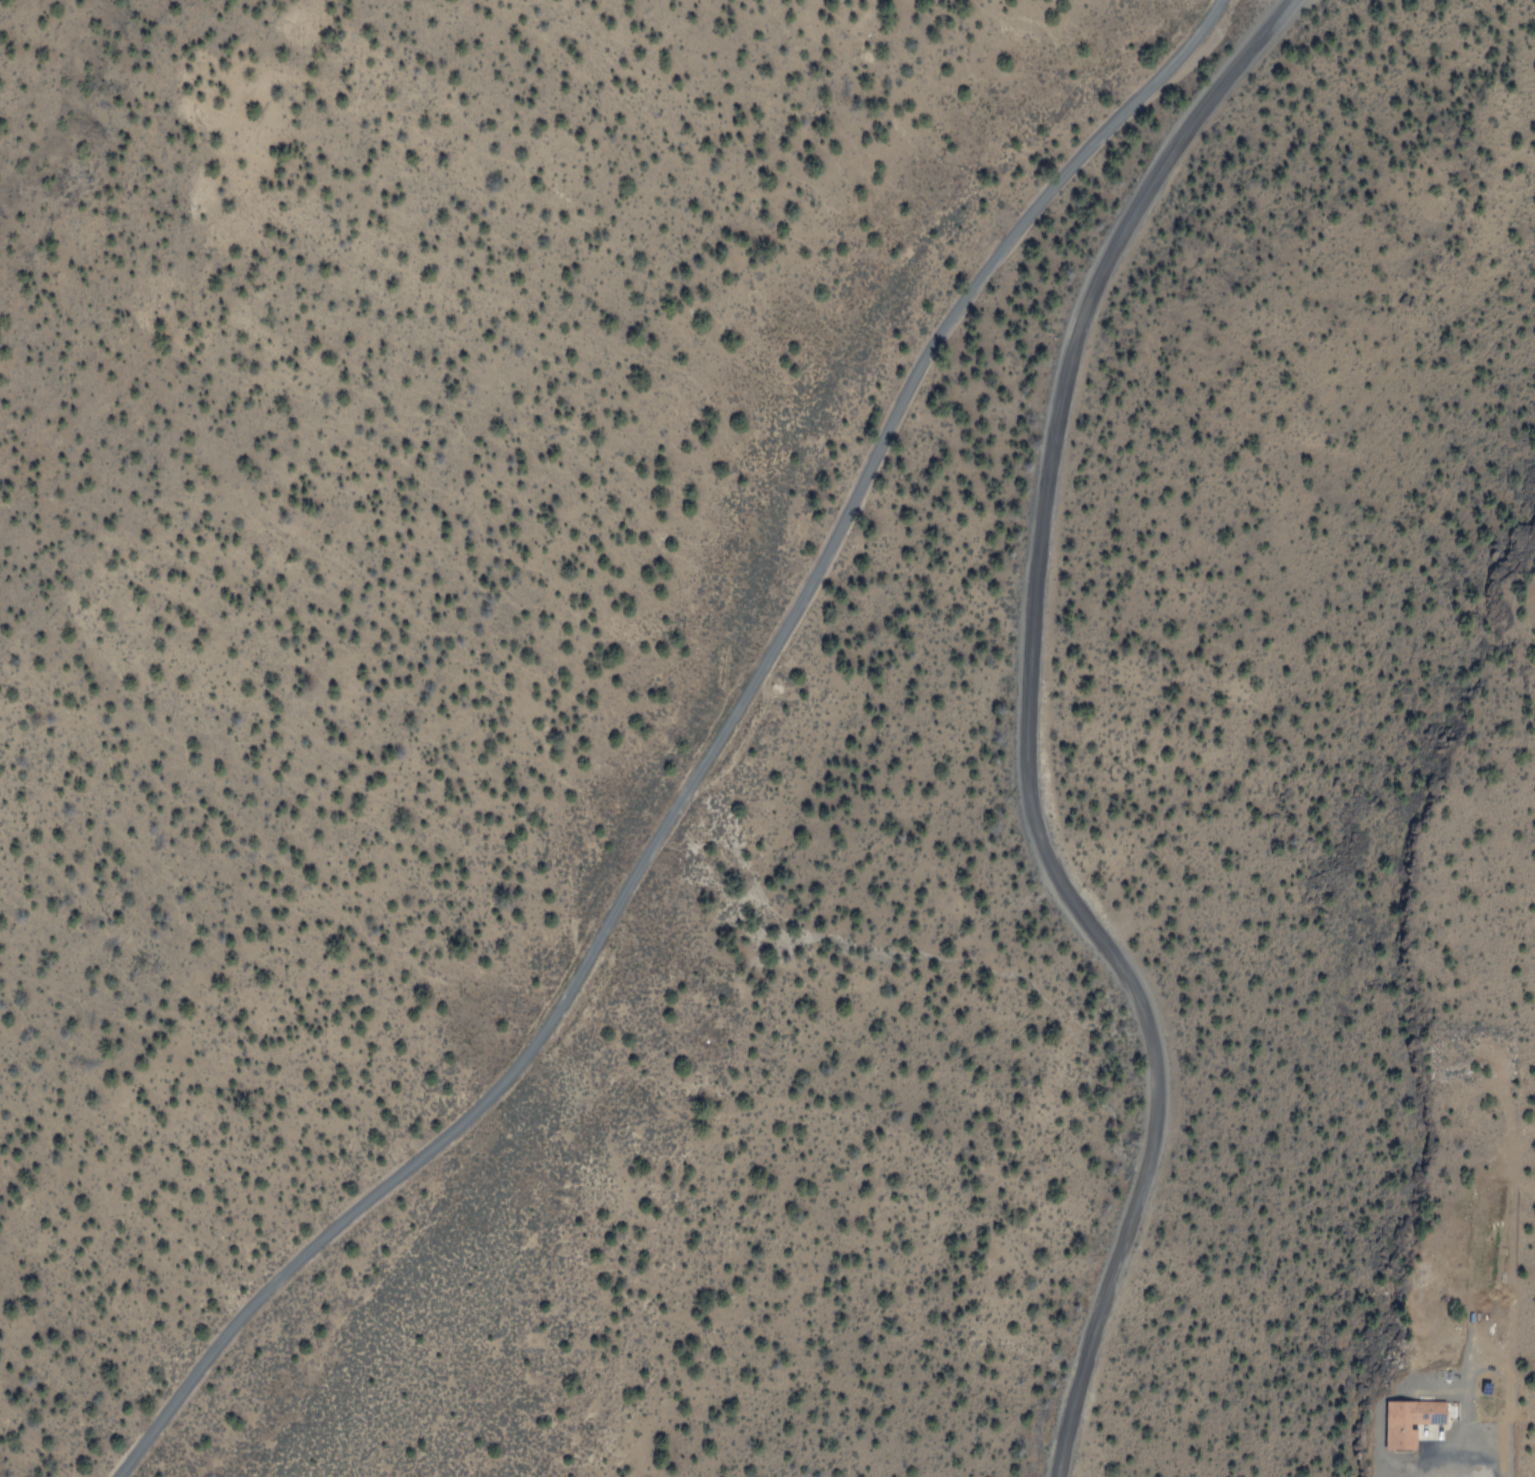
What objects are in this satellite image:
road: (1034, 727)
road: (695, 771)
building: (1409, 1419)

